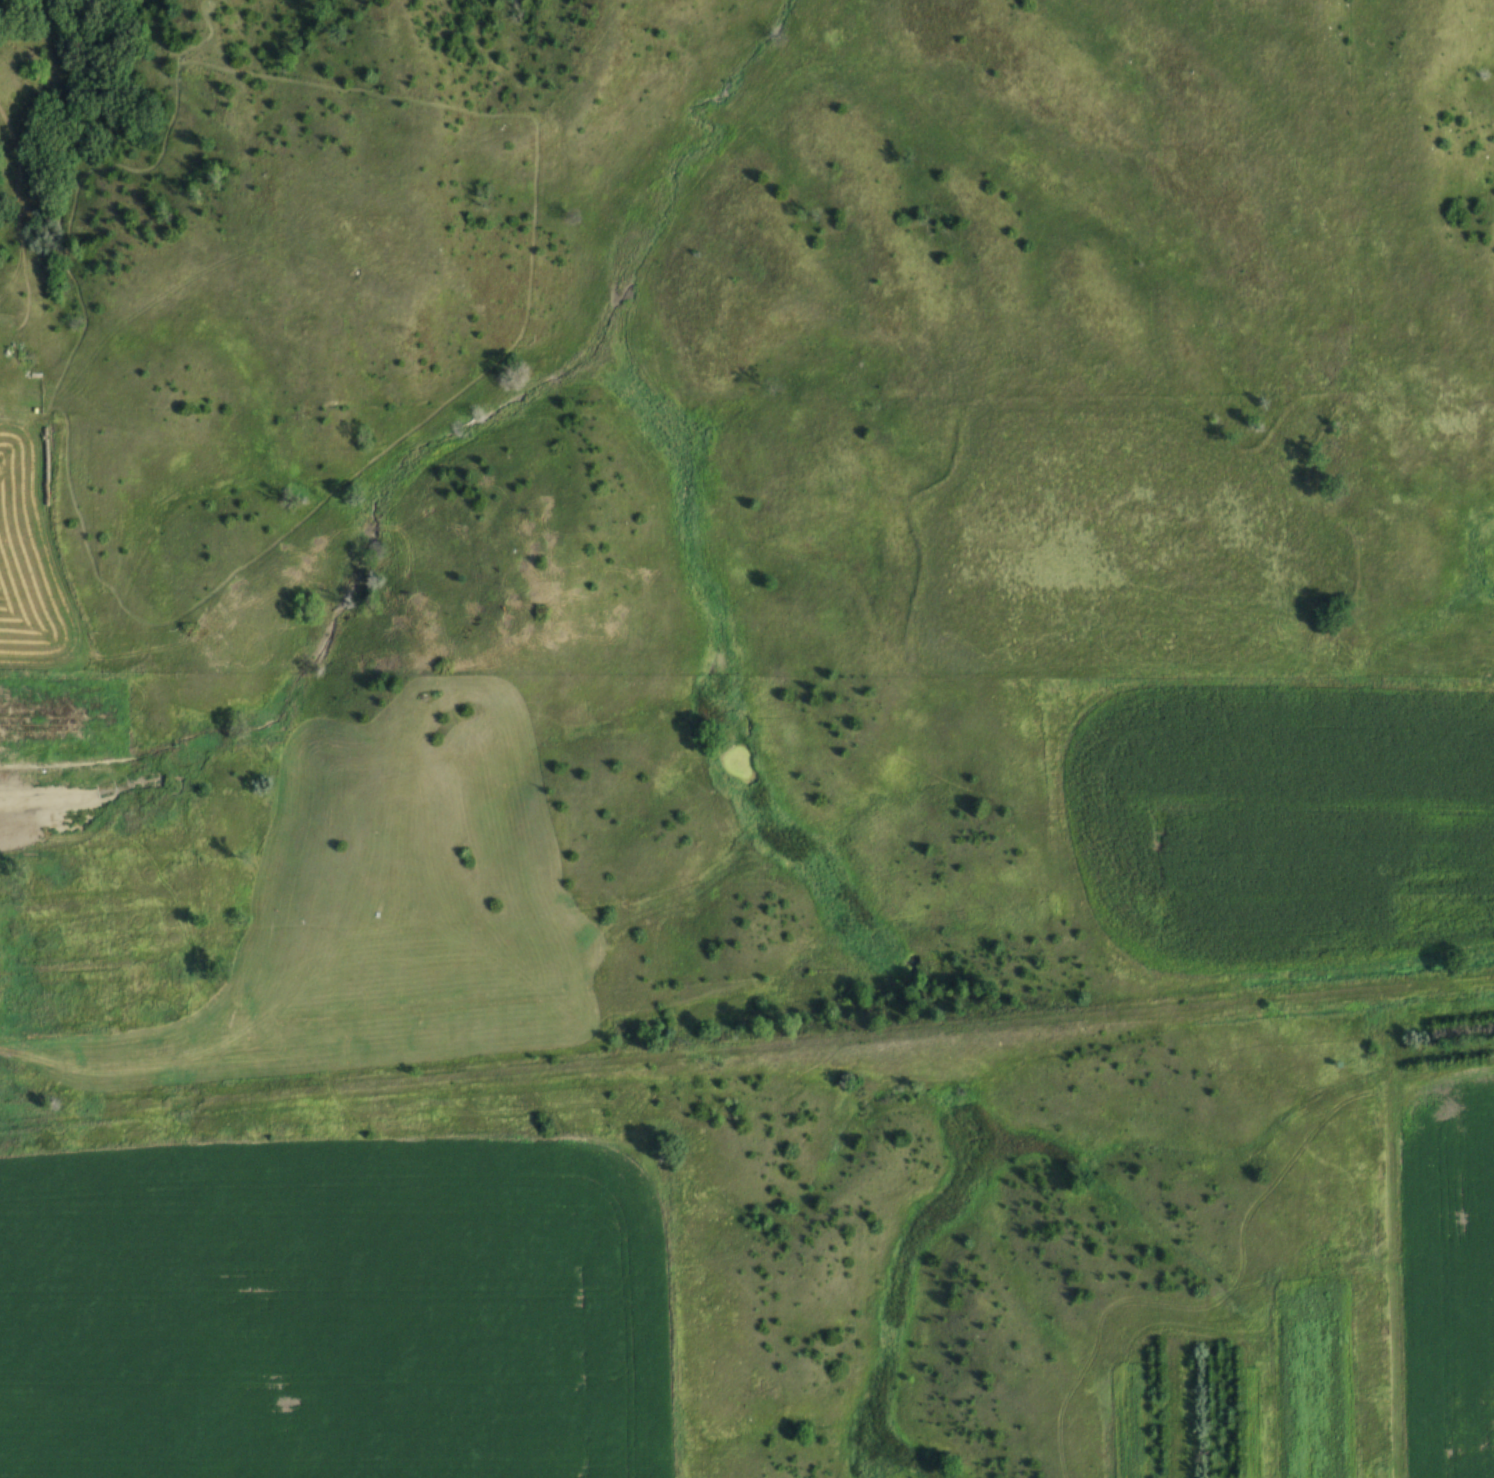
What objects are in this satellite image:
road: (24, 1066)
crop: (336, 1314)

